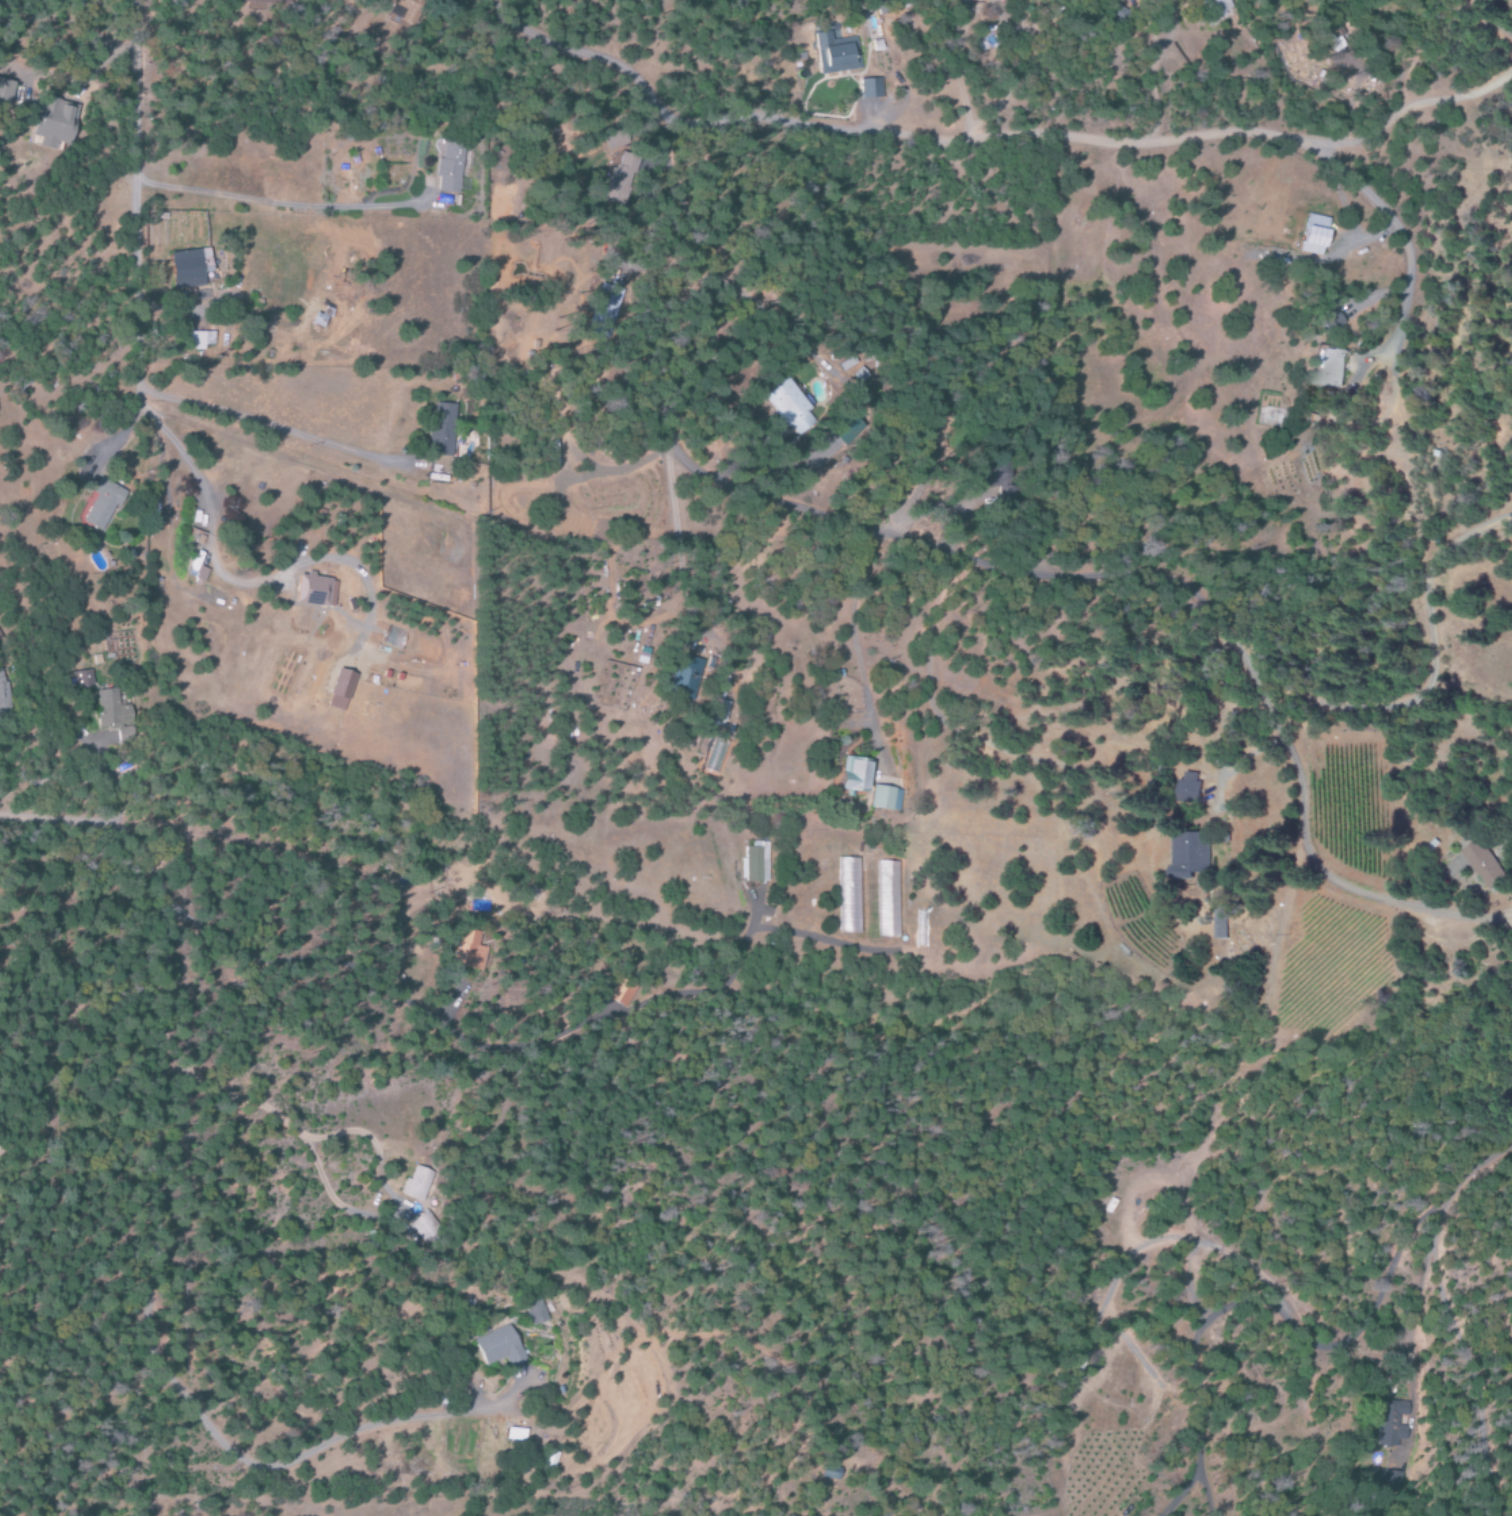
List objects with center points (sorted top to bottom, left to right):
building: (266, 1)
building: (403, 8)
building: (1217, 8)
building: (1336, 44)
building: (834, 55)
road: (569, 70)
building: (5, 93)
building: (52, 122)
road: (1109, 146)
building: (450, 167)
building: (615, 183)
road: (250, 203)
road: (125, 205)
building: (1313, 235)
building: (188, 268)
building: (603, 311)
building: (199, 340)
building: (1331, 368)
building: (789, 407)
building: (442, 430)
building: (845, 430)
building: (986, 476)
building: (102, 503)
road: (1404, 524)
road: (954, 569)
building: (200, 574)
building: (312, 590)
building: (683, 677)
building: (82, 679)
building: (340, 690)
building: (3, 692)
building: (112, 709)
building: (720, 714)
building: (853, 775)
building: (1189, 788)
building: (885, 798)
building: (1192, 855)
building: (753, 864)
building: (1485, 865)
building: (849, 896)
building: (887, 899)
building: (1220, 924)
building: (468, 950)
building: (621, 992)
road: (1271, 993)
road: (104, 1000)
building: (416, 1183)
building: (422, 1225)
building: (537, 1312)
building: (499, 1347)
building: (1390, 1423)
road: (144, 1432)
building: (514, 1434)
building: (830, 1473)
building: (1384, 1480)

